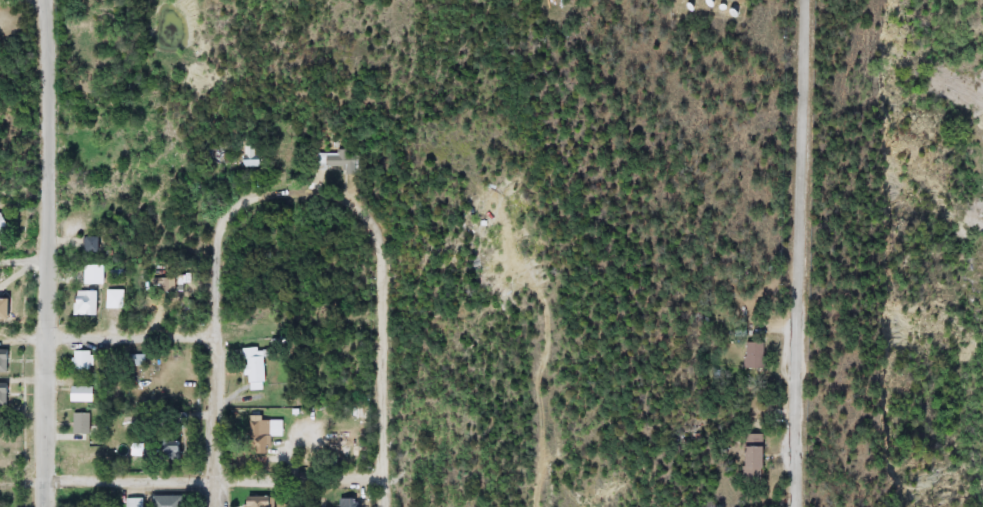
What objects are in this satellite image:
building: (249, 154)
building: (335, 160)
road: (314, 192)
building: (85, 244)
road: (46, 253)
road: (800, 253)
building: (89, 273)
building: (162, 285)
building: (112, 299)
building: (81, 303)
building: (0, 309)
road: (108, 335)
building: (752, 356)
building: (1, 361)
building: (80, 361)
building: (133, 361)
road: (214, 363)
building: (251, 365)
road: (386, 381)
building: (1, 393)
building: (79, 394)
building: (153, 419)
building: (176, 420)
building: (78, 424)
building: (260, 435)
building: (162, 451)
building: (747, 456)
road: (192, 481)
building: (164, 502)
building: (259, 502)
building: (346, 502)
building: (132, 503)

